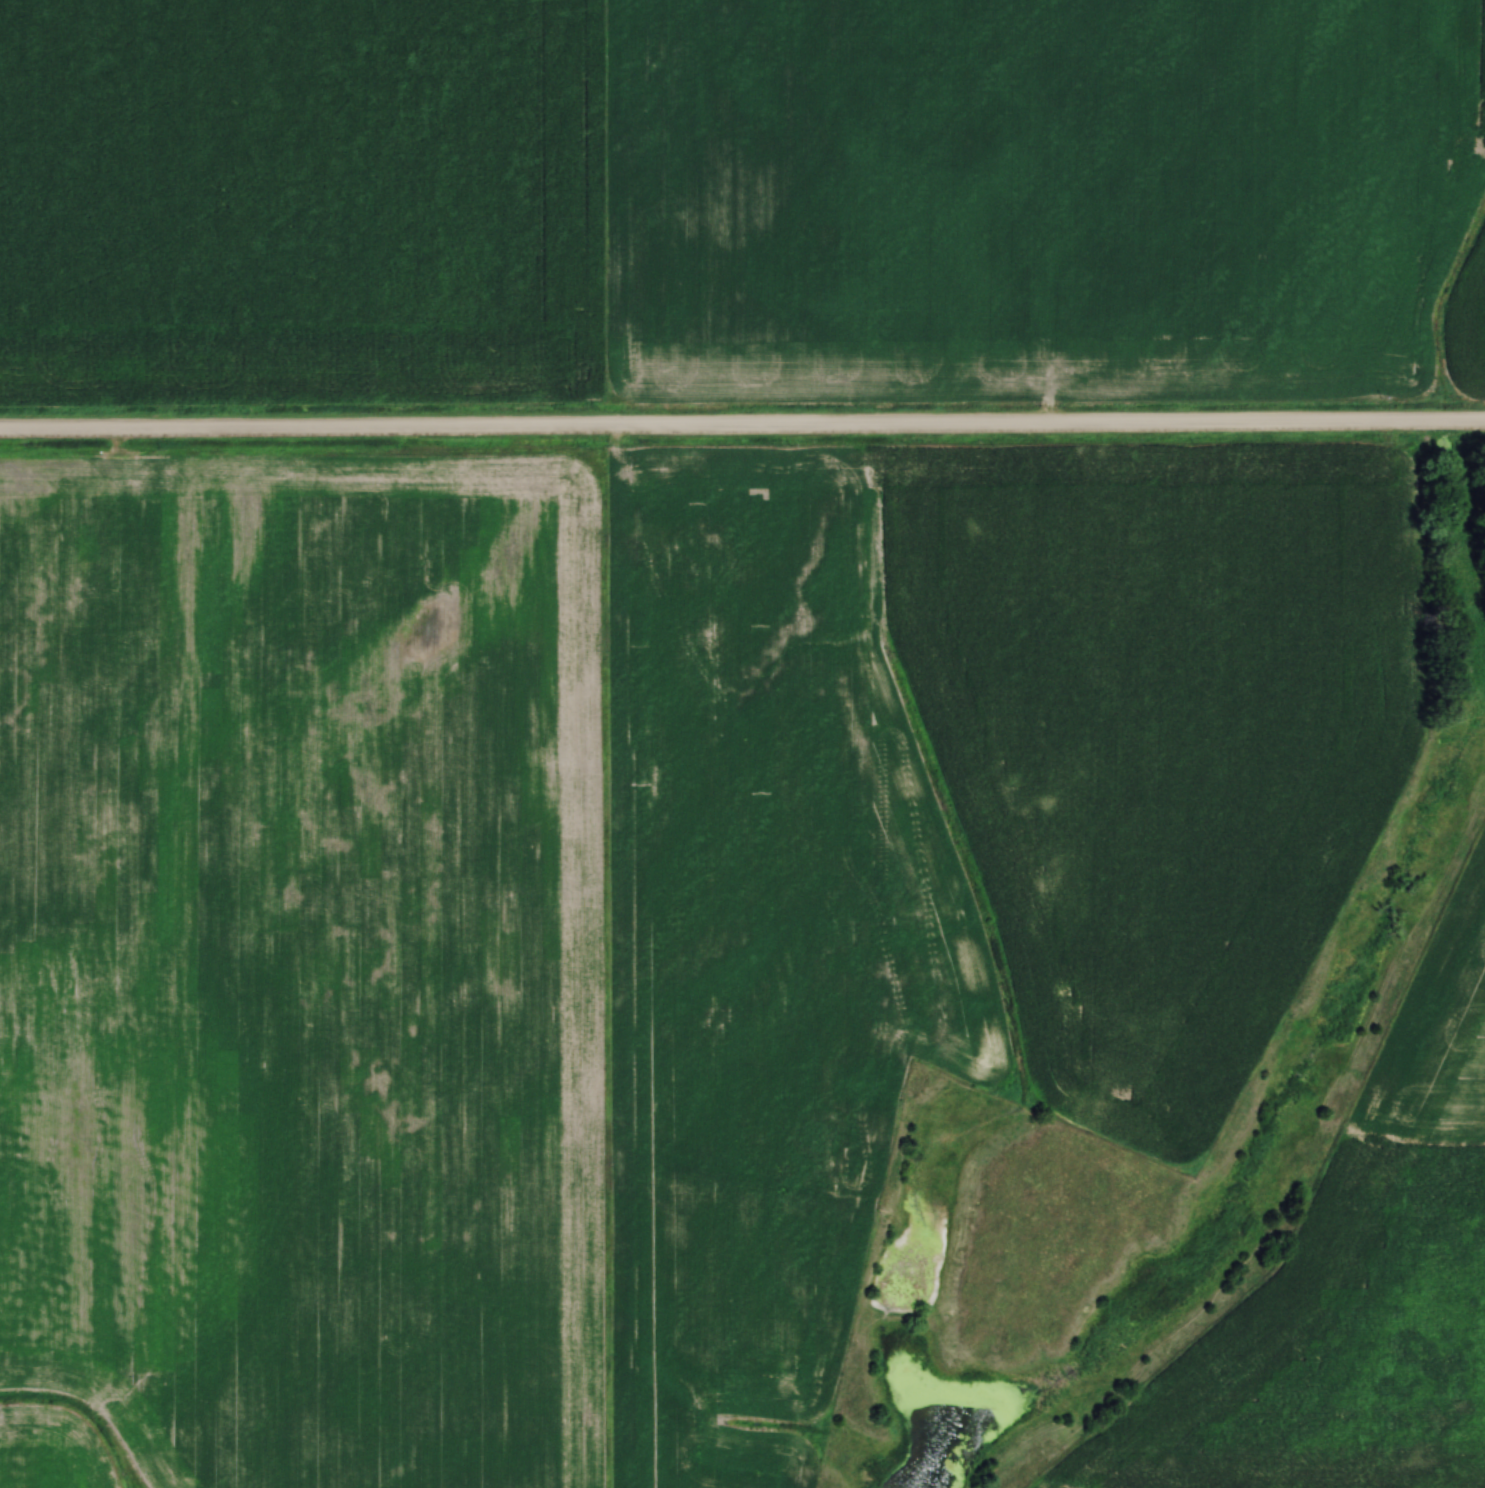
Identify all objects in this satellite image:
road: (742, 430)

